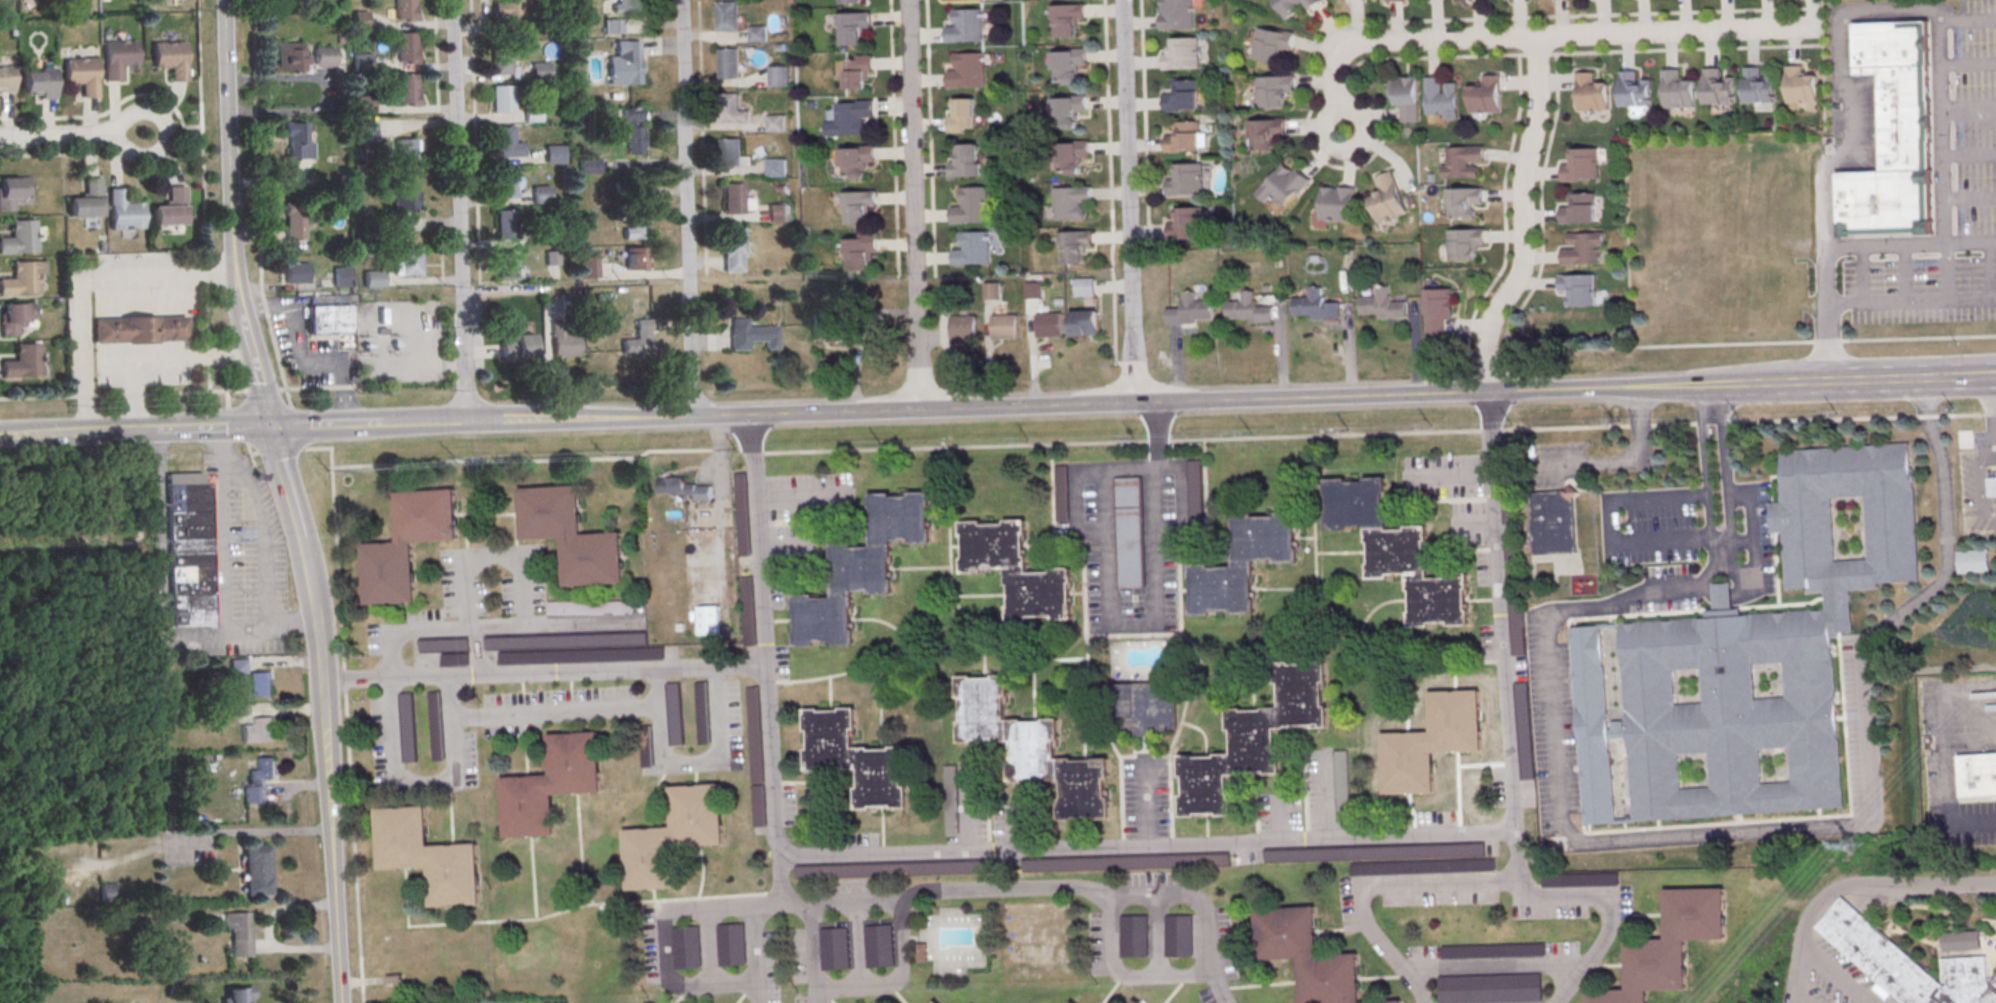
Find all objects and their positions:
building: (296, 0)
building: (849, 1)
building: (1393, 1)
building: (626, 5)
building: (1292, 7)
building: (404, 9)
building: (509, 9)
building: (1177, 14)
building: (726, 17)
road: (1595, 17)
building: (360, 19)
building: (1067, 19)
building: (852, 27)
building: (964, 27)
building: (757, 35)
road: (1547, 36)
building: (1272, 43)
building: (405, 46)
building: (325, 54)
building: (1182, 54)
building: (291, 56)
road: (435, 56)
building: (117, 58)
road: (1408, 58)
building: (170, 59)
building: (500, 60)
building: (625, 63)
building: (728, 64)
road: (1968, 64)
building: (1066, 66)
building: (540, 70)
building: (855, 70)
building: (966, 72)
building: (82, 76)
building: (777, 76)
building: (5, 80)
building: (38, 83)
building: (1758, 86)
building: (1800, 86)
building: (1716, 87)
building: (406, 88)
building: (1634, 89)
building: (1274, 90)
building: (1676, 90)
building: (1592, 93)
road: (148, 96)
building: (1485, 96)
building: (1183, 97)
building: (1406, 97)
building: (1440, 98)
building: (501, 100)
building: (365, 103)
road: (1969, 106)
building: (727, 109)
building: (1067, 112)
building: (963, 116)
building: (851, 117)
road: (1107, 122)
road: (1143, 123)
building: (775, 124)
road: (1848, 128)
building: (634, 130)
building: (367, 131)
building: (1265, 132)
building: (1893, 134)
road: (73, 136)
building: (1184, 139)
road: (255, 141)
building: (298, 141)
building: (502, 142)
road: (1357, 146)
building: (406, 149)
road: (473, 149)
building: (554, 153)
building: (731, 153)
road: (54, 155)
building: (1069, 156)
road: (1970, 156)
road: (228, 158)
building: (855, 160)
building: (966, 161)
building: (1462, 162)
building: (589, 165)
building: (1581, 165)
building: (775, 168)
building: (1187, 181)
building: (504, 183)
building: (1283, 184)
road: (1944, 186)
building: (8, 193)
building: (540, 194)
road: (203, 195)
road: (1970, 197)
building: (1388, 198)
building: (732, 199)
building: (85, 201)
road: (1127, 202)
building: (1069, 203)
building: (1337, 203)
building: (1464, 203)
road: (912, 205)
building: (859, 206)
building: (971, 206)
building: (404, 207)
road: (685, 208)
building: (169, 209)
road: (459, 210)
building: (1578, 210)
building: (122, 212)
building: (777, 214)
road: (1521, 219)
building: (294, 220)
building: (505, 225)
building: (1188, 225)
building: (636, 228)
building: (19, 238)
road: (1970, 242)
building: (1464, 244)
building: (1074, 246)
building: (972, 249)
building: (1583, 249)
building: (732, 250)
building: (861, 250)
building: (635, 258)
building: (409, 262)
building: (508, 265)
building: (588, 266)
building: (297, 272)
road: (1990, 272)
road: (1947, 273)
road: (1905, 274)
building: (343, 275)
road: (1862, 276)
building: (20, 280)
building: (373, 280)
road: (82, 281)
building: (1085, 286)
building: (1033, 289)
building: (1578, 289)
building: (992, 290)
road: (263, 297)
road: (265, 303)
road: (1911, 303)
building: (1383, 304)
building: (1316, 305)
building: (1439, 308)
building: (1249, 309)
building: (1191, 310)
building: (381, 316)
building: (14, 318)
building: (47, 321)
building: (329, 321)
building: (1085, 323)
building: (1049, 325)
building: (140, 328)
building: (963, 328)
building: (1004, 328)
building: (835, 330)
building: (381, 332)
building: (752, 334)
building: (564, 339)
building: (639, 339)
power substation: (399, 341)
road: (1711, 346)
road: (301, 347)
building: (517, 347)
road: (276, 352)
road: (155, 358)
building: (22, 363)
road: (454, 365)
road: (256, 371)
road: (1892, 381)
road: (1748, 385)
road: (1671, 388)
road: (347, 389)
road: (306, 390)
road: (262, 391)
road: (341, 391)
road: (1561, 391)
road: (122, 395)
road: (1709, 401)
road: (977, 408)
road: (293, 421)
road: (425, 423)
traffic signals: (270, 427)
road: (327, 427)
road: (212, 429)
road: (239, 429)
road: (77, 434)
road: (1380, 437)
road: (1984, 447)
road: (1989, 450)
road: (752, 456)
road: (602, 462)
road: (1621, 462)
road: (397, 468)
road: (1450, 477)
road: (1724, 478)
road: (1704, 480)
road: (283, 483)
building: (1195, 487)
building: (684, 489)
building: (1062, 491)
road: (800, 495)
road: (1154, 507)
building: (1510, 510)
building: (741, 516)
building: (1553, 524)
road: (1609, 528)
building: (1129, 534)
building: (572, 537)
road: (265, 542)
road: (1753, 543)
road: (784, 545)
building: (407, 546)
building: (188, 551)
road: (1108, 553)
building: (1397, 553)
road: (495, 557)
building: (1974, 560)
road: (220, 562)
building: (1242, 565)
building: (862, 569)
building: (1016, 570)
building: (1516, 598)
building: (575, 606)
road: (314, 609)
building: (746, 612)
road: (1501, 612)
building: (708, 619)
road: (496, 629)
road: (763, 635)
building: (559, 640)
building: (448, 649)
building: (569, 655)
road: (282, 662)
building: (1746, 662)
building: (238, 667)
road: (544, 674)
building: (260, 685)
road: (345, 686)
road: (654, 688)
road: (656, 707)
building: (1147, 707)
road: (285, 710)
building: (239, 711)
building: (701, 714)
building: (674, 716)
building: (436, 725)
building: (408, 727)
building: (1525, 730)
building: (259, 731)
building: (1255, 739)
building: (1431, 743)
building: (1032, 749)
building: (754, 758)
building: (855, 760)
building: (1977, 776)
road: (1944, 780)
building: (259, 781)
building: (1341, 784)
building: (551, 785)
road: (424, 786)
road: (296, 787)
road: (1324, 795)
building: (951, 799)
road: (1144, 802)
road: (965, 810)
road: (1279, 816)
road: (1742, 832)
road: (207, 834)
building: (673, 837)
road: (334, 842)
power tower: (1848, 844)
road: (1145, 845)
road: (1517, 855)
building: (1393, 857)
building: (429, 858)
building: (1126, 862)
building: (899, 868)
building: (257, 870)
building: (1579, 879)
road: (1482, 881)
road: (1851, 883)
road: (1057, 888)
road: (785, 889)
building: (108, 894)
road: (284, 909)
road: (660, 932)
building: (239, 934)
road: (1156, 934)
building: (1133, 935)
building: (1179, 935)
building: (1962, 941)
building: (731, 944)
building: (879, 945)
park: (1038, 945)
building: (686, 946)
building: (1670, 946)
building: (835, 948)
road: (295, 950)
road: (752, 950)
building: (1494, 950)
building: (921, 953)
road: (814, 954)
building: (1305, 955)
building: (1906, 963)
road: (1493, 969)
road: (1124, 974)
road: (895, 983)
building: (1490, 988)
building: (238, 995)
building: (935, 1001)
building: (1071, 1002)
building: (1136, 1002)
building: (1387, 1002)

